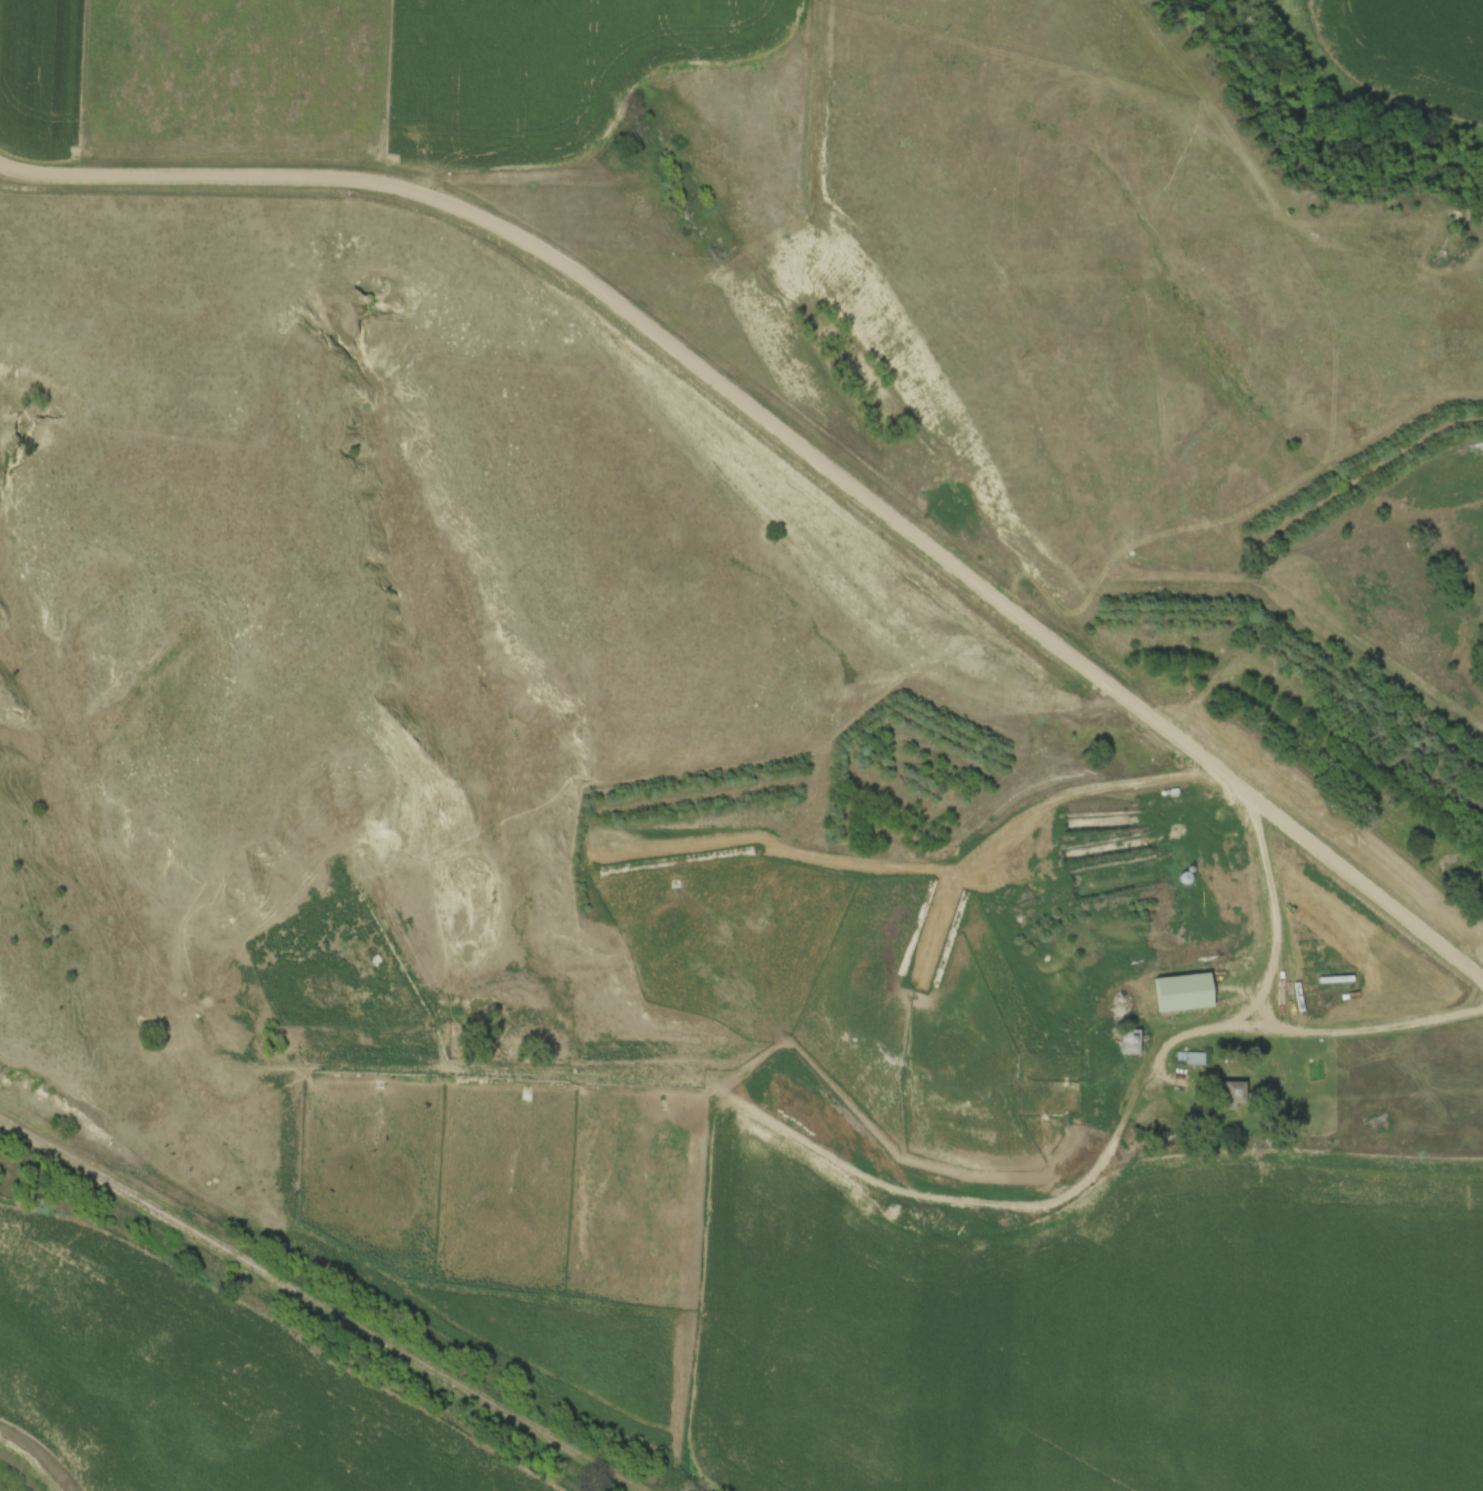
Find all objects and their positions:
road: (795, 437)
building: (1194, 996)
road: (1238, 1026)
building: (1129, 1042)
building: (1233, 1095)
railway: (328, 1301)
crop: (1099, 1336)

